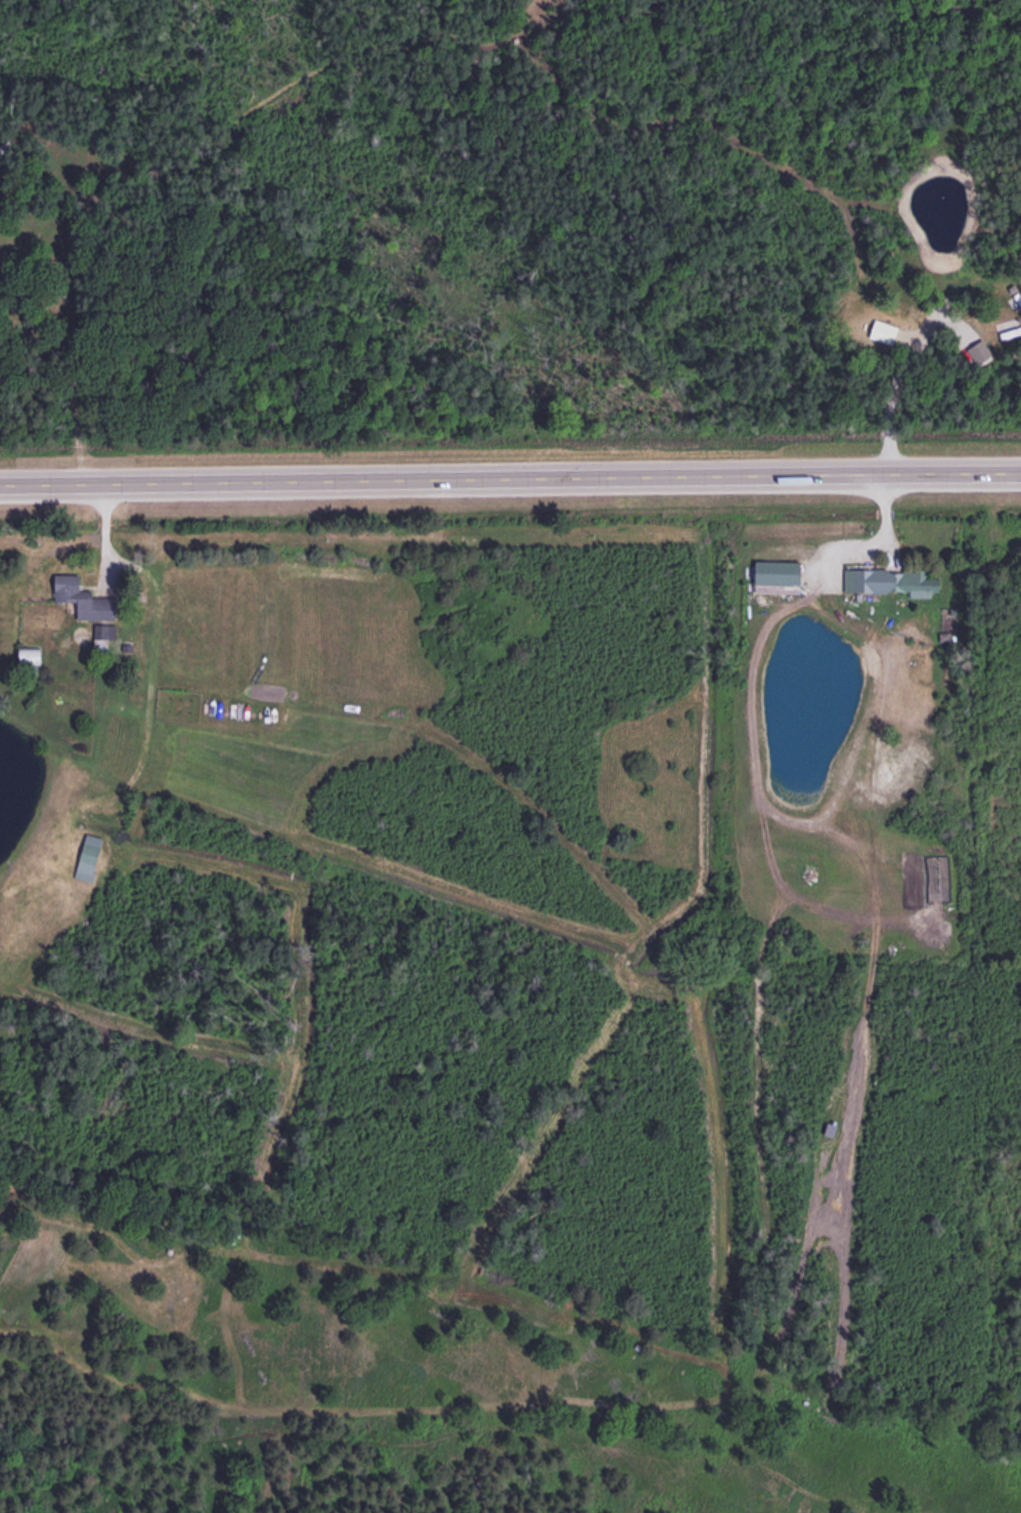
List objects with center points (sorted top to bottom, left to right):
building: (95, 199)
road: (510, 474)
building: (865, 578)
building: (912, 579)
building: (75, 592)
building: (32, 654)
building: (90, 852)

